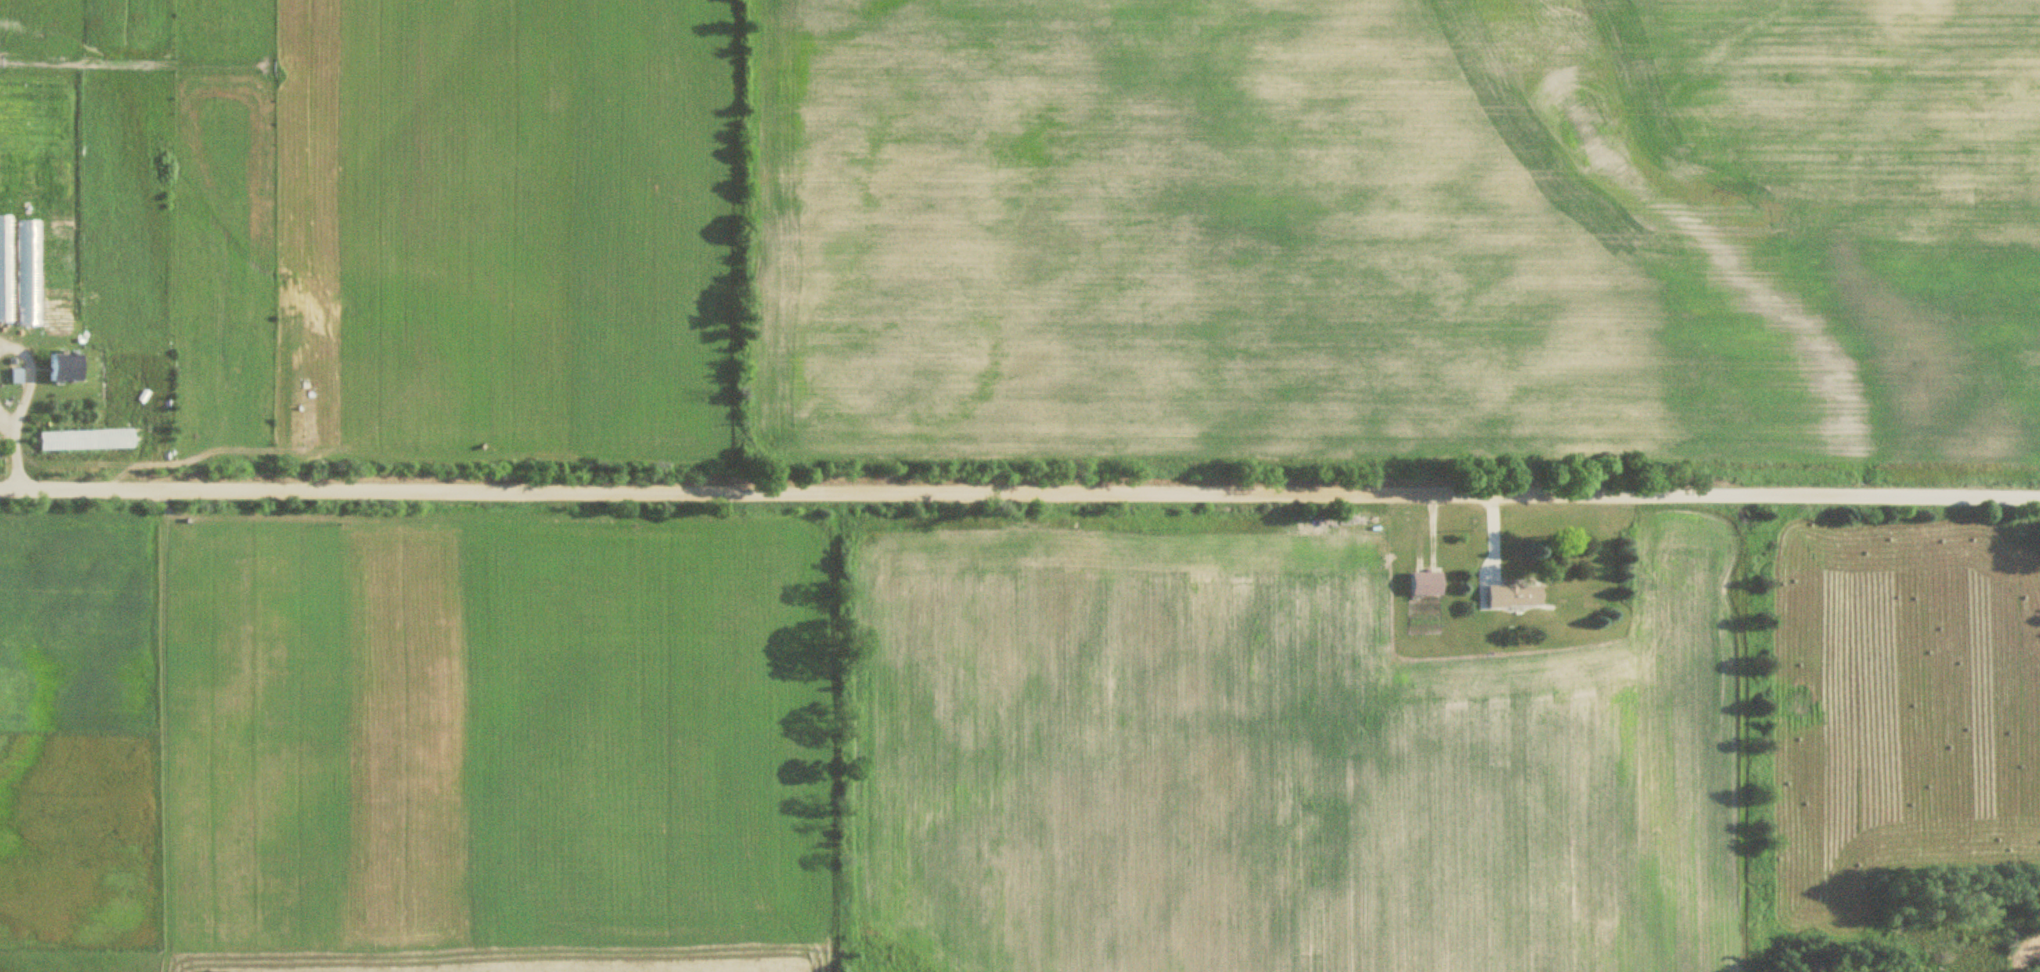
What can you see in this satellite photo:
crop: (1394, 235)
building: (58, 366)
road: (35, 367)
road: (8, 410)
road: (24, 454)
road: (1019, 488)
building: (1420, 583)
building: (1508, 596)
crop: (1277, 761)

